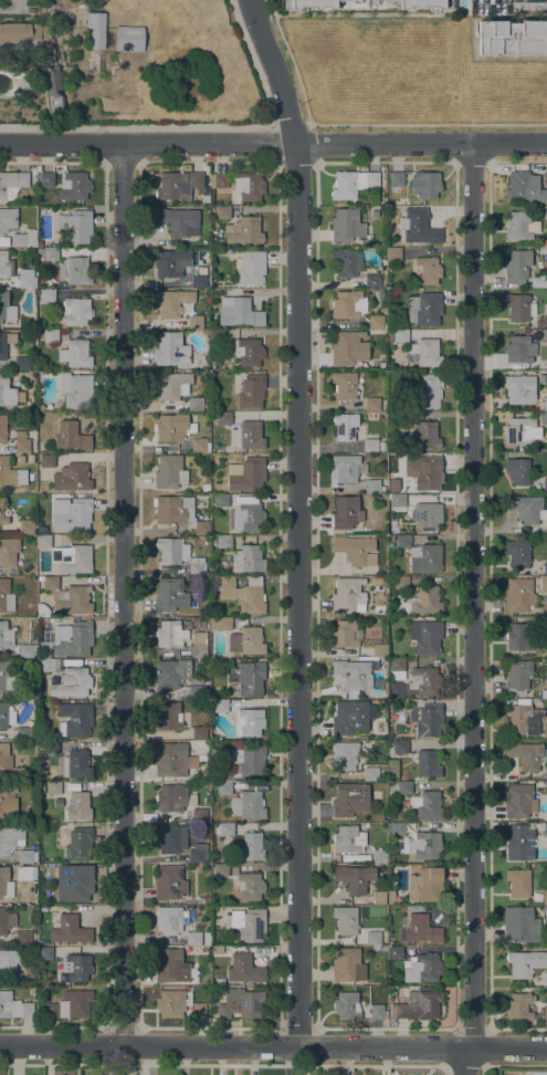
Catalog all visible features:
building: (369, 4)
building: (96, 30)
building: (20, 35)
building: (512, 38)
building: (128, 39)
road: (255, 71)
building: (51, 88)
road: (135, 127)
road: (273, 144)
building: (56, 168)
building: (46, 179)
building: (545, 179)
building: (221, 180)
building: (397, 180)
building: (12, 184)
building: (353, 184)
building: (75, 185)
building: (177, 185)
building: (425, 185)
building: (245, 187)
building: (523, 187)
building: (204, 199)
building: (406, 202)
building: (545, 212)
building: (222, 213)
building: (375, 213)
building: (8, 220)
building: (179, 221)
building: (76, 226)
building: (347, 226)
building: (520, 226)
building: (419, 228)
building: (244, 231)
building: (24, 238)
building: (545, 243)
building: (543, 250)
building: (49, 253)
building: (393, 254)
building: (346, 263)
building: (169, 264)
building: (6, 265)
building: (516, 265)
building: (251, 269)
building: (77, 271)
building: (424, 271)
building: (25, 281)
building: (199, 281)
building: (372, 281)
building: (538, 281)
building: (172, 302)
building: (349, 304)
building: (69, 306)
building: (6, 307)
building: (519, 307)
building: (425, 310)
building: (239, 312)
building: (196, 322)
building: (375, 322)
building: (541, 322)
building: (51, 336)
building: (217, 336)
building: (398, 336)
building: (545, 336)
building: (348, 348)
building: (171, 349)
building: (519, 349)
building: (2, 352)
building: (249, 352)
building: (427, 353)
building: (76, 354)
building: (22, 363)
building: (541, 377)
building: (172, 385)
building: (345, 386)
building: (519, 389)
building: (76, 390)
building: (427, 390)
building: (7, 392)
building: (252, 392)
building: (194, 404)
building: (372, 404)
building: (545, 404)
building: (224, 418)
building: (400, 418)
building: (545, 418)
building: (345, 426)
building: (3, 428)
building: (173, 428)
building: (522, 431)
building: (428, 435)
building: (248, 436)
building: (72, 437)
building: (21, 442)
building: (200, 446)
building: (370, 446)
building: (382, 449)
building: (21, 459)
building: (31, 459)
building: (46, 461)
building: (346, 468)
building: (517, 471)
building: (170, 472)
building: (425, 472)
building: (10, 473)
building: (246, 474)
building: (72, 478)
building: (545, 486)
building: (372, 487)
building: (206, 488)
building: (221, 501)
building: (398, 501)
building: (526, 509)
building: (1, 512)
building: (178, 512)
building: (346, 512)
building: (427, 515)
building: (74, 516)
building: (248, 516)
road: (298, 520)
building: (27, 526)
building: (42, 530)
building: (44, 542)
building: (224, 542)
building: (402, 542)
building: (171, 551)
building: (356, 551)
building: (8, 552)
building: (517, 554)
building: (73, 559)
building: (425, 559)
building: (248, 560)
building: (197, 568)
building: (545, 568)
building: (537, 570)
building: (51, 583)
building: (401, 583)
building: (543, 585)
building: (244, 594)
road: (125, 595)
building: (169, 595)
building: (348, 595)
building: (6, 596)
building: (518, 596)
building: (75, 601)
building: (424, 601)
road: (473, 609)
building: (43, 610)
building: (204, 613)
building: (224, 624)
building: (545, 624)
building: (170, 634)
building: (346, 634)
building: (6, 636)
building: (425, 636)
building: (518, 637)
building: (73, 639)
building: (246, 641)
building: (199, 645)
building: (27, 650)
building: (379, 650)
building: (33, 660)
building: (199, 660)
building: (46, 664)
building: (398, 669)
building: (171, 672)
building: (356, 674)
building: (518, 677)
building: (6, 678)
building: (251, 678)
building: (424, 680)
building: (70, 683)
building: (196, 691)
building: (219, 706)
building: (6, 716)
building: (169, 717)
building: (350, 718)
building: (524, 718)
building: (75, 720)
building: (427, 720)
building: (249, 722)
building: (545, 731)
building: (23, 733)
building: (200, 733)
building: (207, 745)
building: (51, 748)
building: (400, 748)
building: (346, 755)
building: (526, 755)
building: (7, 758)
building: (172, 760)
building: (428, 763)
building: (74, 764)
building: (245, 764)
building: (374, 773)
building: (21, 774)
building: (402, 787)
building: (53, 789)
building: (224, 789)
building: (8, 799)
building: (171, 799)
building: (350, 800)
building: (518, 801)
building: (248, 805)
building: (428, 806)
building: (78, 807)
building: (199, 815)
building: (227, 829)
building: (545, 829)
building: (10, 838)
building: (171, 838)
building: (348, 839)
building: (417, 841)
building: (519, 843)
building: (80, 847)
building: (251, 848)
building: (27, 856)
building: (197, 856)
building: (379, 856)
building: (49, 870)
building: (221, 870)
building: (22, 873)
building: (354, 878)
building: (169, 883)
building: (518, 883)
building: (6, 884)
building: (74, 884)
building: (425, 885)
building: (250, 886)
building: (390, 897)
building: (378, 898)
building: (545, 898)
building: (207, 900)
building: (43, 908)
building: (546, 914)
building: (168, 920)
building: (6, 921)
building: (345, 921)
building: (248, 925)
building: (520, 926)
building: (70, 930)
building: (422, 930)
building: (23, 937)
building: (193, 939)
building: (207, 939)
building: (372, 939)
building: (217, 951)
building: (44, 953)
building: (396, 953)
building: (525, 963)
building: (11, 964)
building: (345, 964)
building: (171, 966)
building: (77, 968)
building: (244, 969)
building: (423, 969)
building: (545, 980)
building: (241, 1003)
building: (172, 1004)
building: (8, 1005)
building: (70, 1005)
building: (418, 1005)
building: (345, 1006)
building: (519, 1006)
building: (28, 1010)
building: (199, 1010)
building: (378, 1012)
building: (545, 1016)
road: (517, 1029)
road: (474, 1030)
road: (273, 1047)
road: (464, 1063)
road: (514, 1066)

